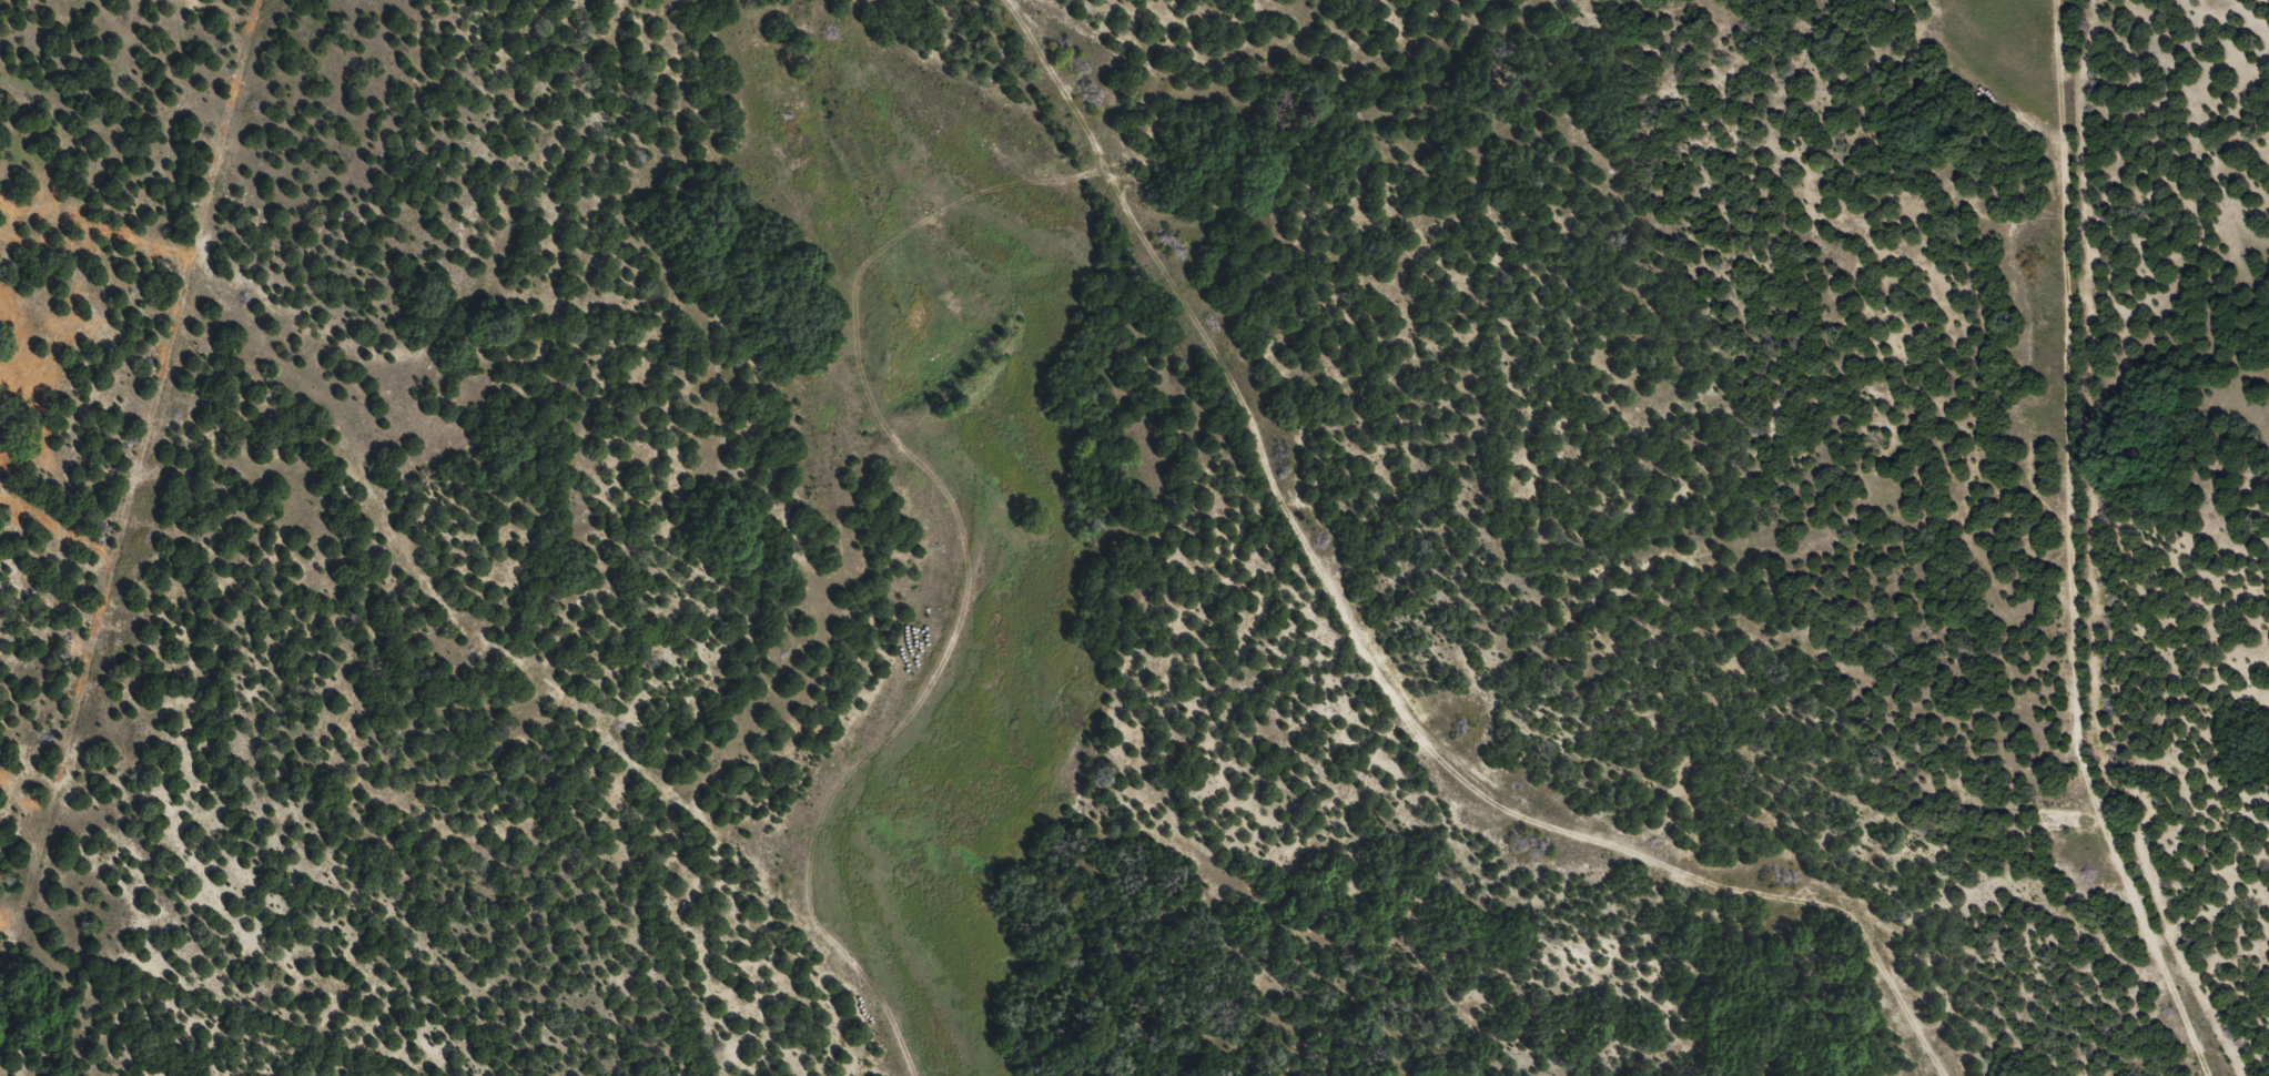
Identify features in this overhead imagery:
road: (452, 590)

